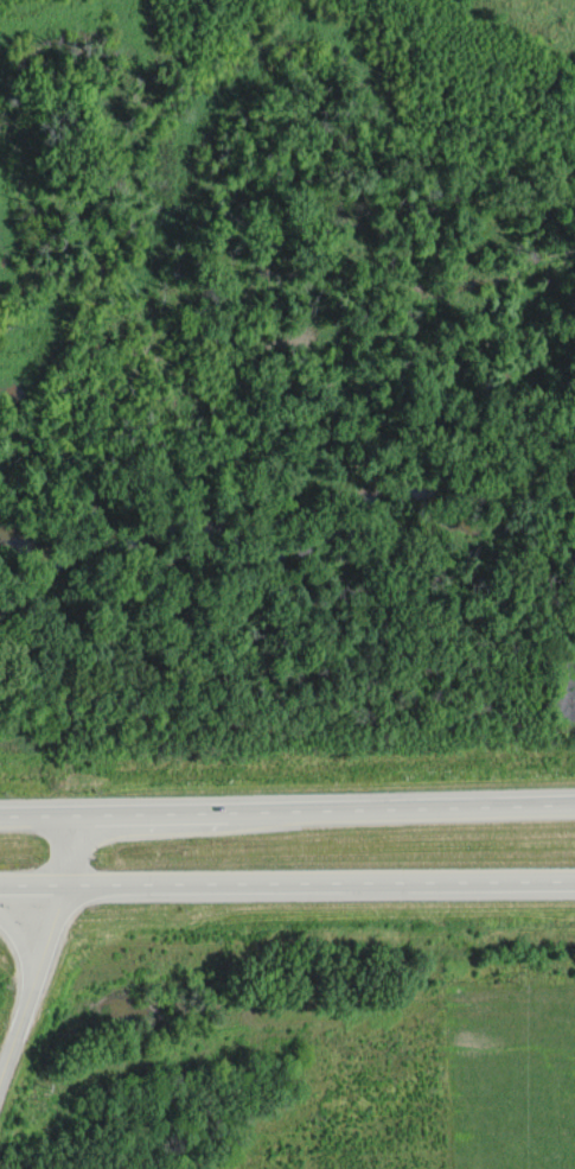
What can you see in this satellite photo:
road: (287, 809)
road: (71, 851)
road: (320, 882)
road: (33, 887)
road: (49, 938)
road: (26, 944)
road: (15, 1036)

